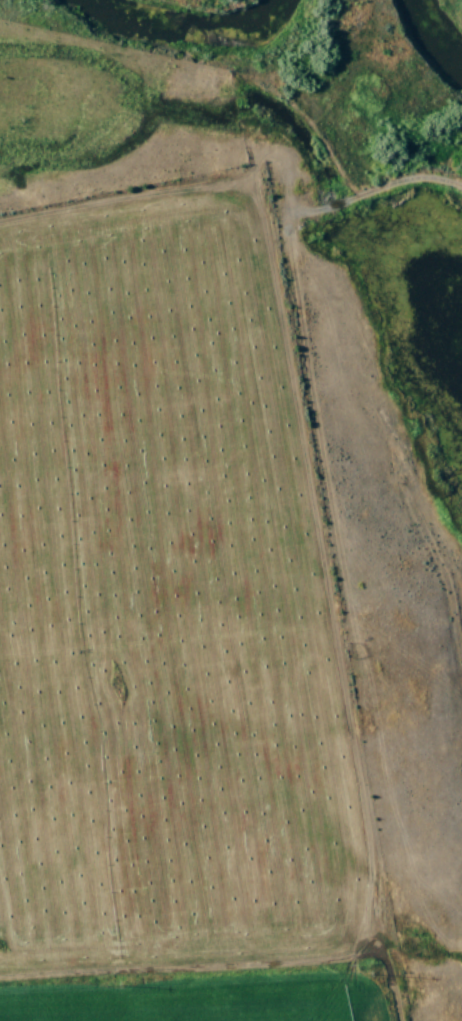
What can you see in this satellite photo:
river: (193, 7)
river: (458, 17)

